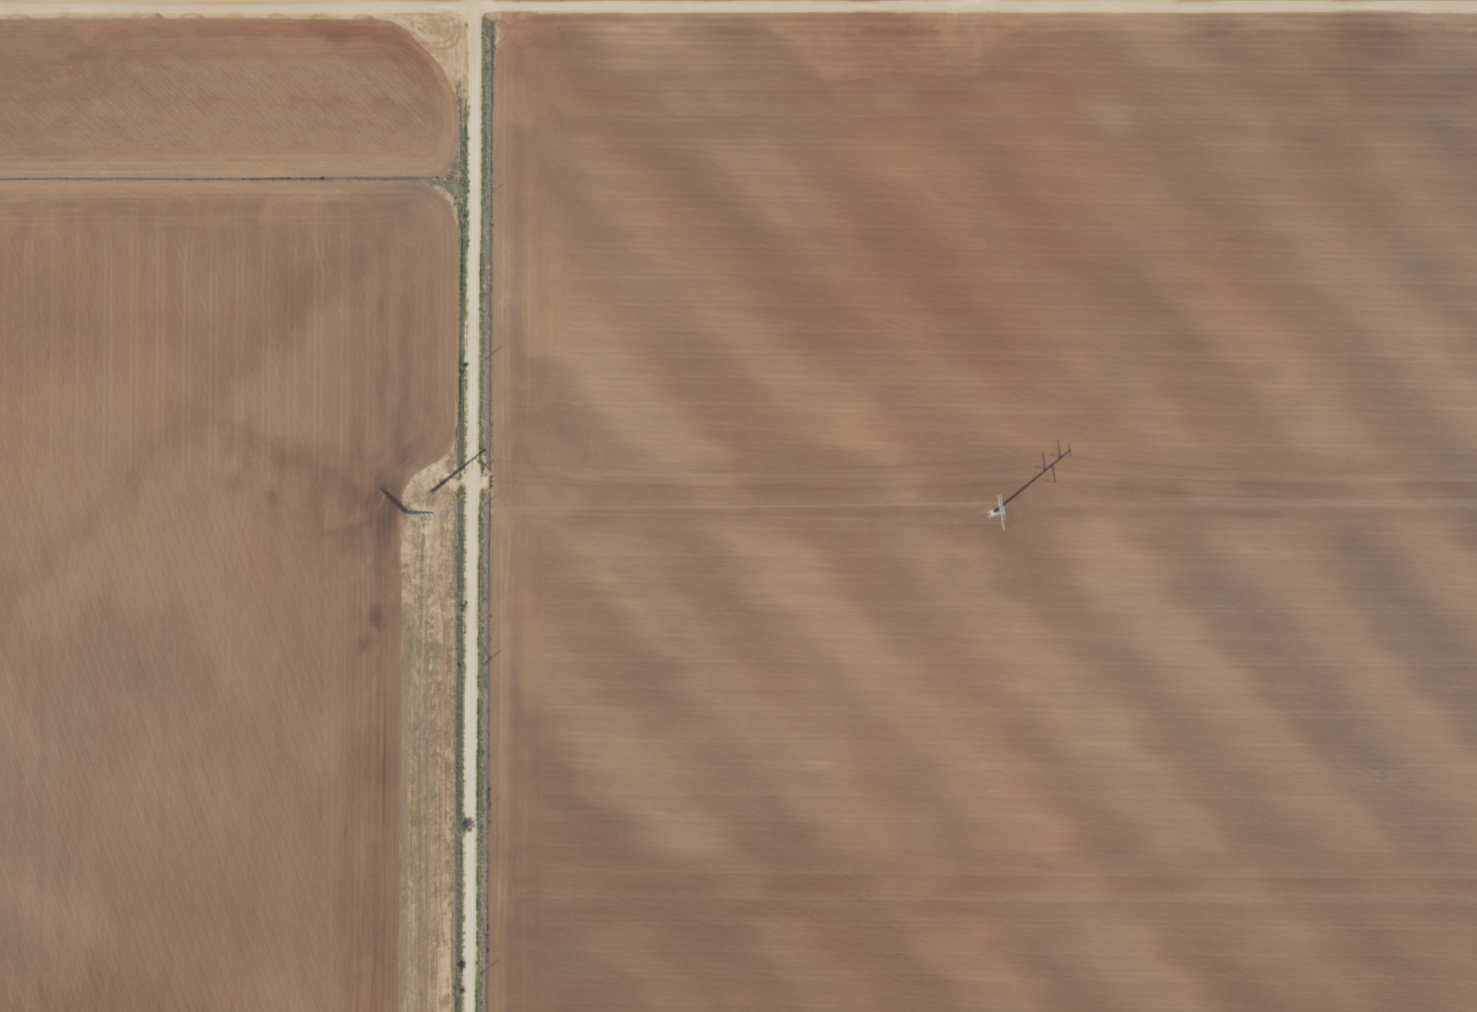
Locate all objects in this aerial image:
road: (447, 506)

